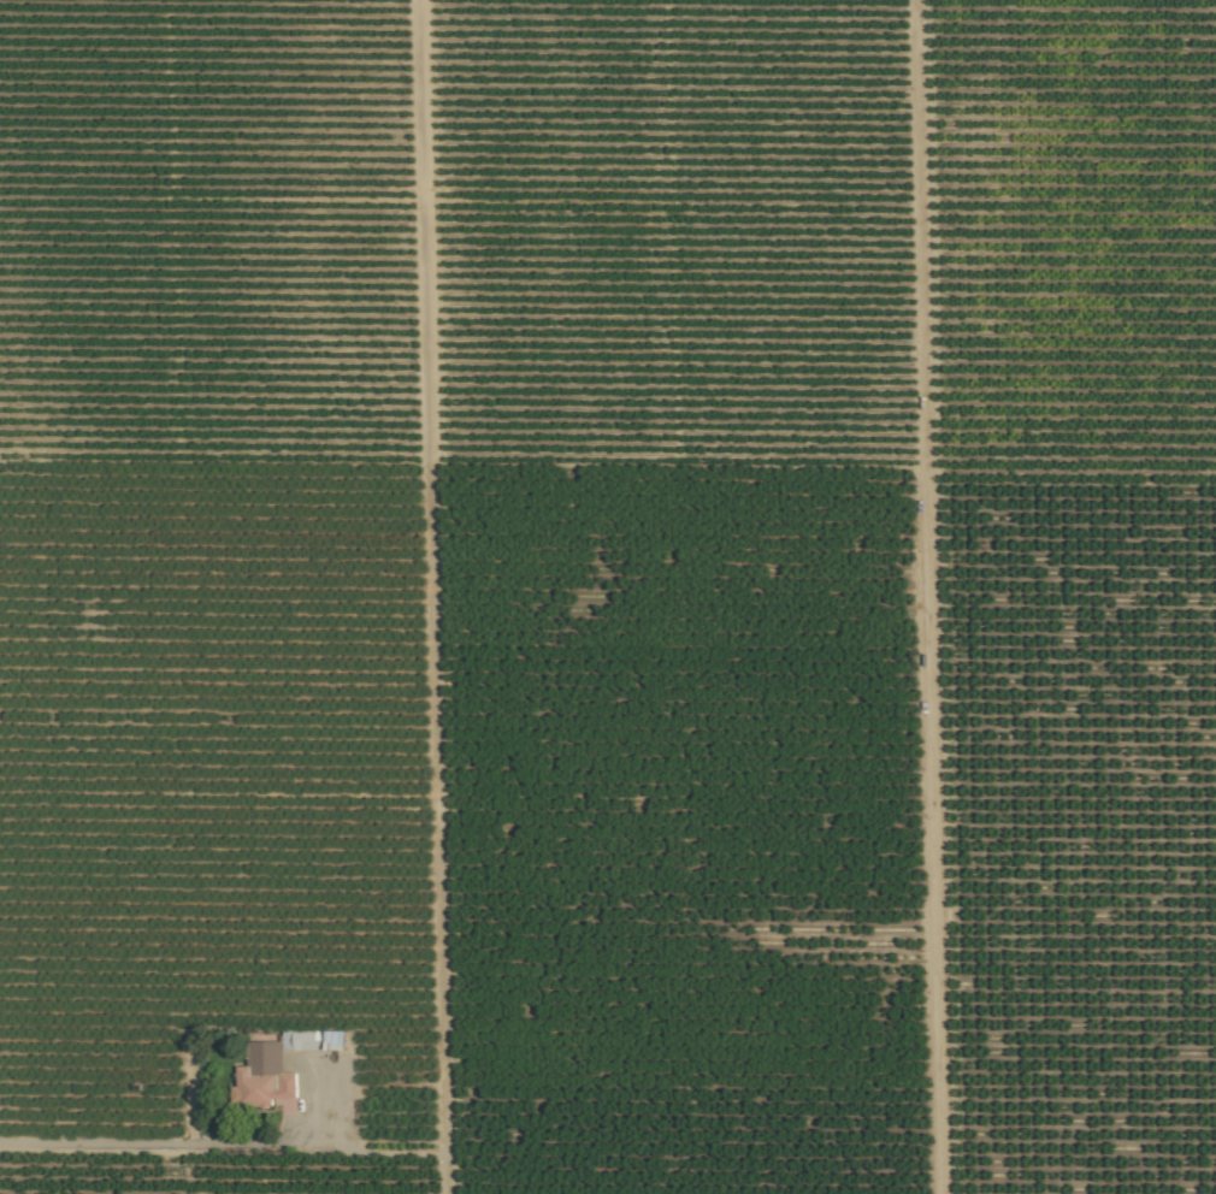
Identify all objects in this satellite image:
building: (268, 1070)
road: (197, 1140)

